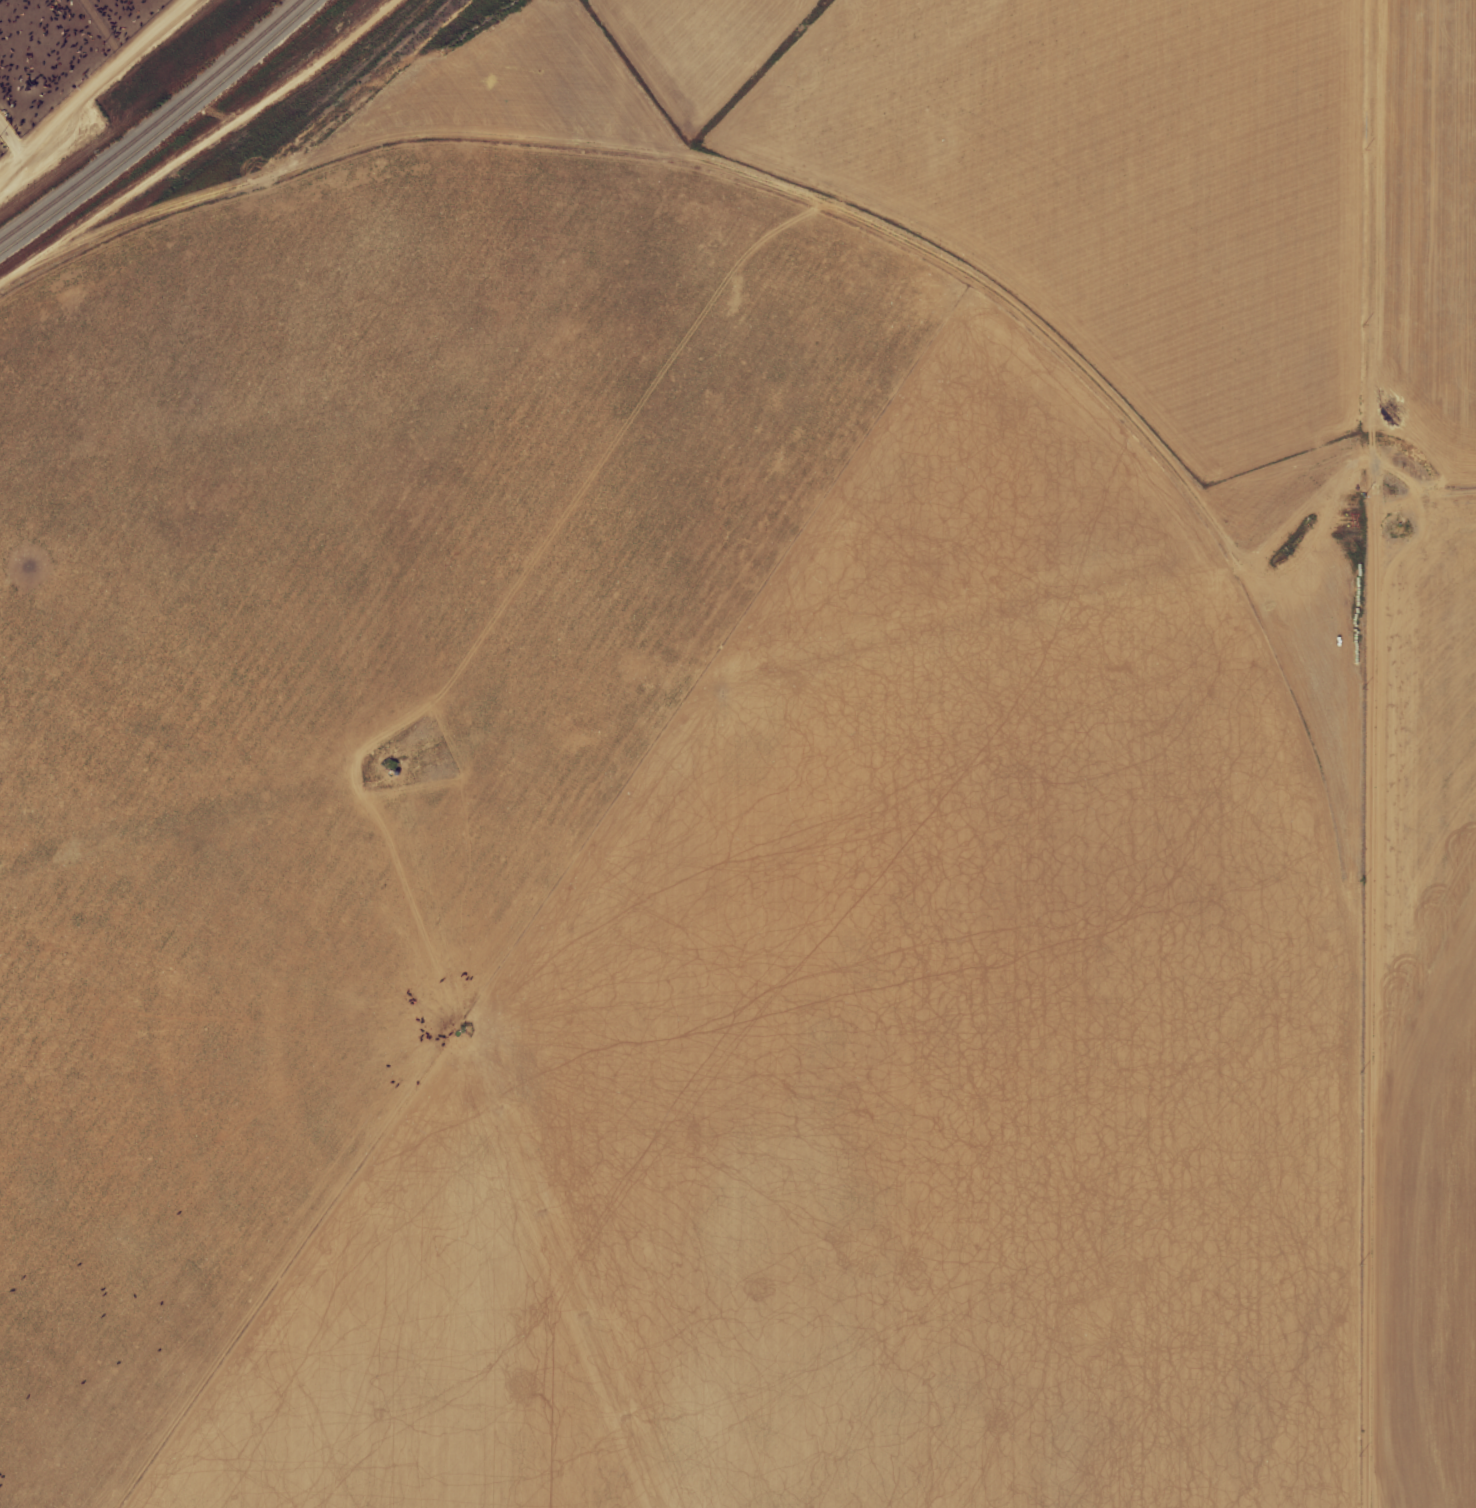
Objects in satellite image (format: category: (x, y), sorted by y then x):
road: (37, 92)
road: (111, 105)
railway: (156, 125)
railway: (165, 132)

